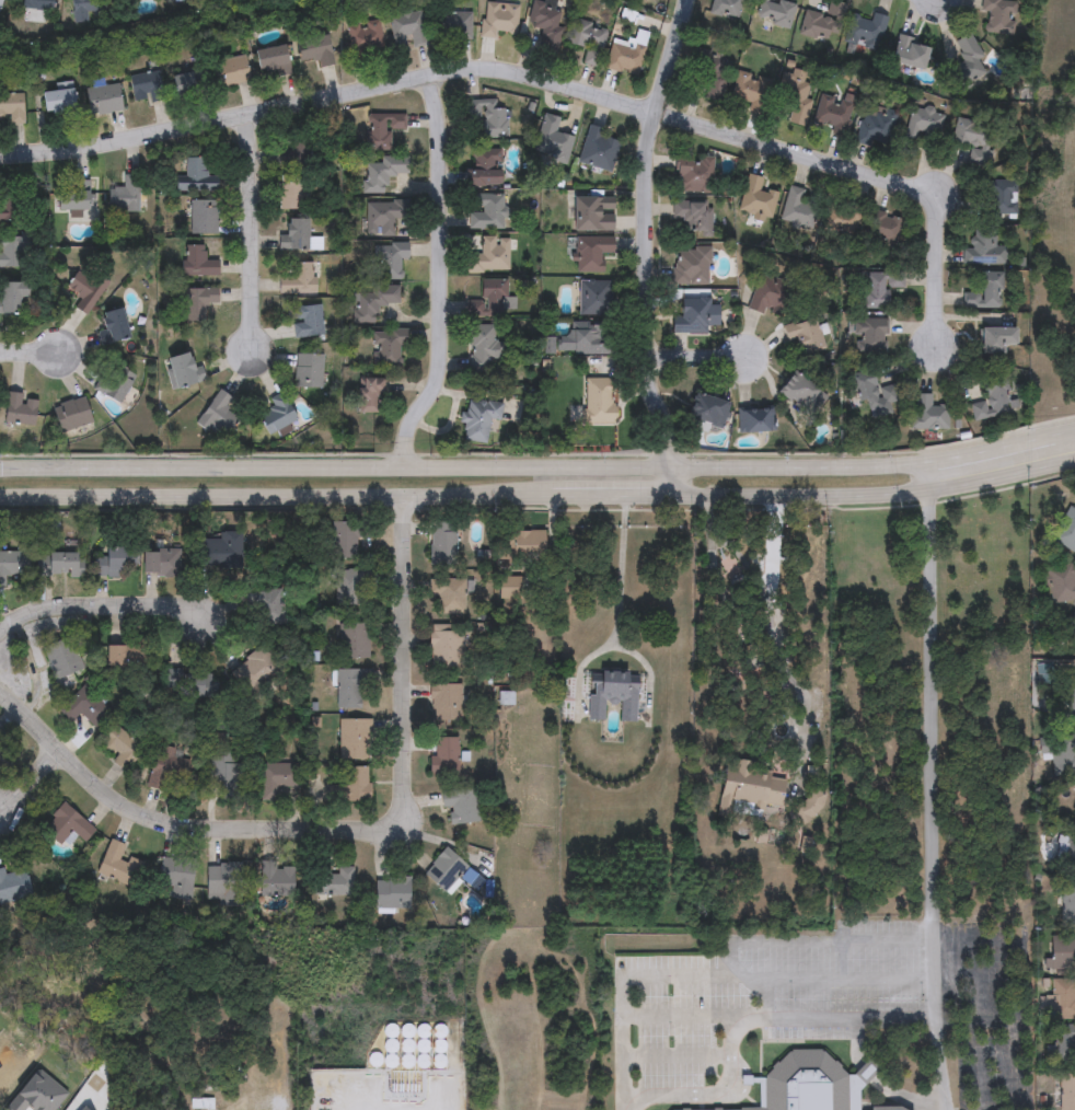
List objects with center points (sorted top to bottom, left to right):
building: (1, 4)
building: (36, 5)
building: (728, 8)
building: (84, 9)
building: (776, 12)
building: (999, 16)
building: (499, 21)
building: (546, 24)
building: (823, 24)
building: (455, 26)
building: (408, 27)
building: (866, 33)
building: (365, 38)
building: (588, 42)
building: (314, 51)
building: (910, 54)
building: (625, 60)
building: (968, 61)
building: (273, 62)
building: (231, 72)
building: (715, 74)
road: (555, 83)
building: (186, 85)
building: (145, 86)
building: (752, 93)
building: (102, 101)
building: (794, 102)
building: (57, 104)
building: (11, 109)
building: (835, 115)
building: (489, 119)
building: (924, 126)
building: (876, 127)
building: (382, 131)
building: (970, 136)
building: (552, 141)
building: (598, 151)
building: (289, 162)
building: (484, 170)
building: (383, 174)
building: (693, 176)
building: (196, 178)
building: (290, 193)
building: (72, 197)
building: (126, 197)
building: (1002, 199)
building: (756, 203)
building: (796, 210)
building: (487, 212)
building: (592, 212)
building: (205, 218)
building: (383, 218)
building: (692, 219)
building: (840, 219)
building: (881, 228)
road: (252, 231)
building: (294, 236)
road: (646, 248)
building: (984, 250)
building: (11, 253)
building: (590, 254)
building: (490, 257)
building: (389, 261)
building: (198, 264)
building: (692, 268)
road: (441, 271)
building: (299, 281)
building: (879, 289)
building: (85, 290)
building: (990, 291)
building: (11, 299)
building: (597, 299)
building: (766, 300)
building: (488, 301)
building: (195, 302)
building: (372, 304)
building: (693, 317)
building: (308, 322)
building: (115, 327)
building: (868, 336)
building: (804, 337)
building: (994, 342)
building: (583, 344)
building: (386, 348)
building: (484, 350)
road: (695, 356)
road: (28, 359)
building: (309, 372)
building: (178, 373)
building: (118, 386)
building: (368, 396)
building: (801, 396)
building: (872, 397)
building: (598, 403)
building: (991, 403)
building: (20, 412)
building: (706, 414)
building: (72, 415)
building: (277, 416)
building: (927, 416)
building: (217, 417)
building: (478, 420)
building: (755, 420)
road: (539, 464)
road: (539, 499)
building: (1066, 529)
building: (346, 536)
building: (442, 542)
building: (520, 543)
building: (216, 548)
building: (159, 562)
building: (58, 563)
building: (107, 563)
building: (15, 564)
road: (621, 573)
building: (1061, 581)
building: (508, 587)
building: (351, 588)
building: (449, 597)
road: (105, 601)
building: (266, 603)
road: (771, 624)
building: (1074, 633)
building: (1074, 636)
building: (352, 640)
building: (443, 646)
building: (72, 655)
building: (125, 655)
road: (405, 661)
building: (255, 670)
building: (188, 684)
building: (348, 689)
building: (612, 695)
building: (444, 702)
building: (1070, 702)
building: (86, 707)
building: (354, 739)
building: (0, 742)
building: (0, 743)
building: (120, 745)
building: (1063, 753)
building: (444, 755)
building: (170, 770)
building: (228, 773)
building: (278, 778)
road: (30, 782)
road: (929, 783)
building: (354, 784)
building: (750, 791)
building: (810, 803)
building: (462, 806)
building: (67, 824)
road: (173, 828)
building: (1070, 855)
building: (116, 864)
building: (444, 869)
building: (223, 877)
building: (180, 879)
building: (276, 880)
building: (333, 880)
building: (14, 884)
building: (392, 893)
building: (1067, 903)
building: (1063, 951)
road: (732, 958)
road: (620, 986)
building: (1063, 998)
road: (765, 1001)
road: (687, 1019)
road: (754, 1020)
road: (972, 1022)
road: (857, 1043)
building: (1064, 1044)
road: (674, 1060)
road: (865, 1073)
building: (812, 1084)
building: (1066, 1090)
road: (904, 1096)
building: (882, 1109)

